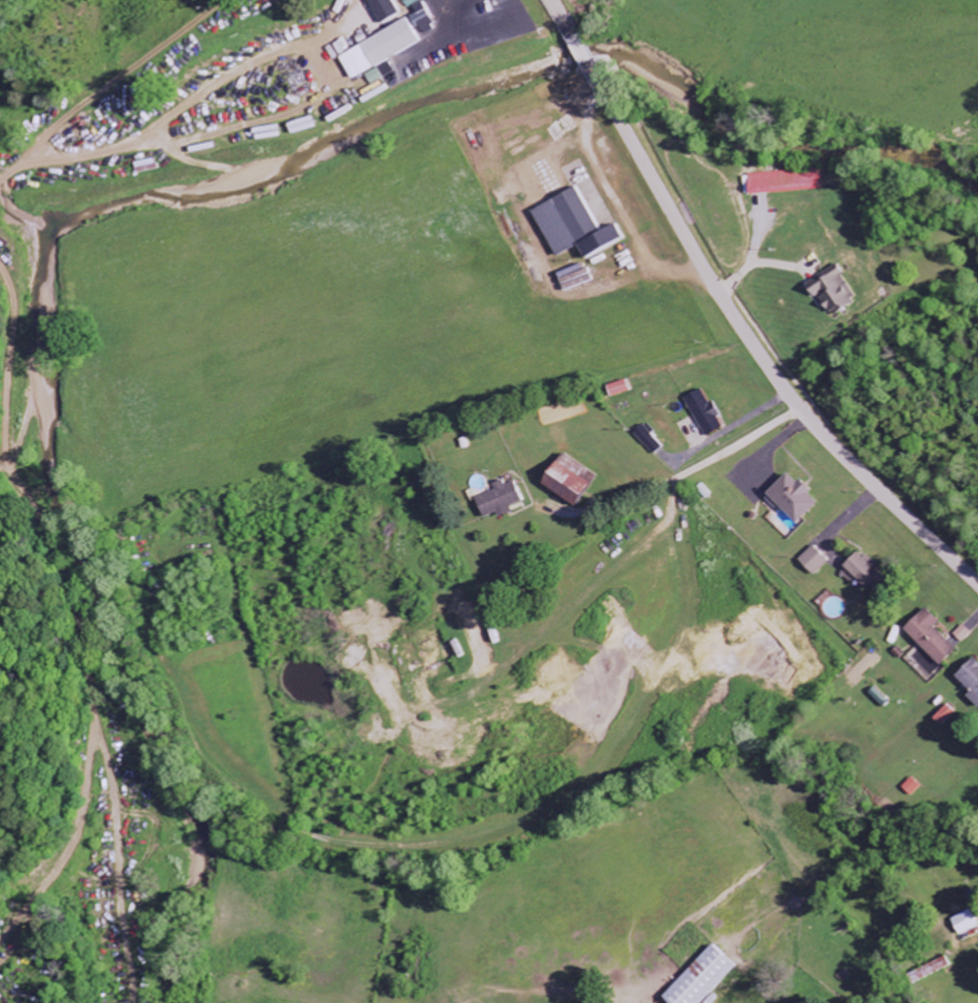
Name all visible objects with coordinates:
building: (382, 9)
building: (385, 45)
building: (782, 182)
building: (570, 226)
building: (571, 278)
building: (831, 291)
road: (732, 315)
building: (615, 389)
road: (527, 396)
building: (702, 413)
road: (679, 473)
building: (565, 480)
building: (790, 498)
building: (497, 501)
building: (812, 561)
building: (860, 572)
building: (929, 637)
building: (925, 662)
building: (970, 680)
building: (941, 717)
building: (910, 787)
building: (962, 923)
building: (928, 970)
building: (698, 979)

